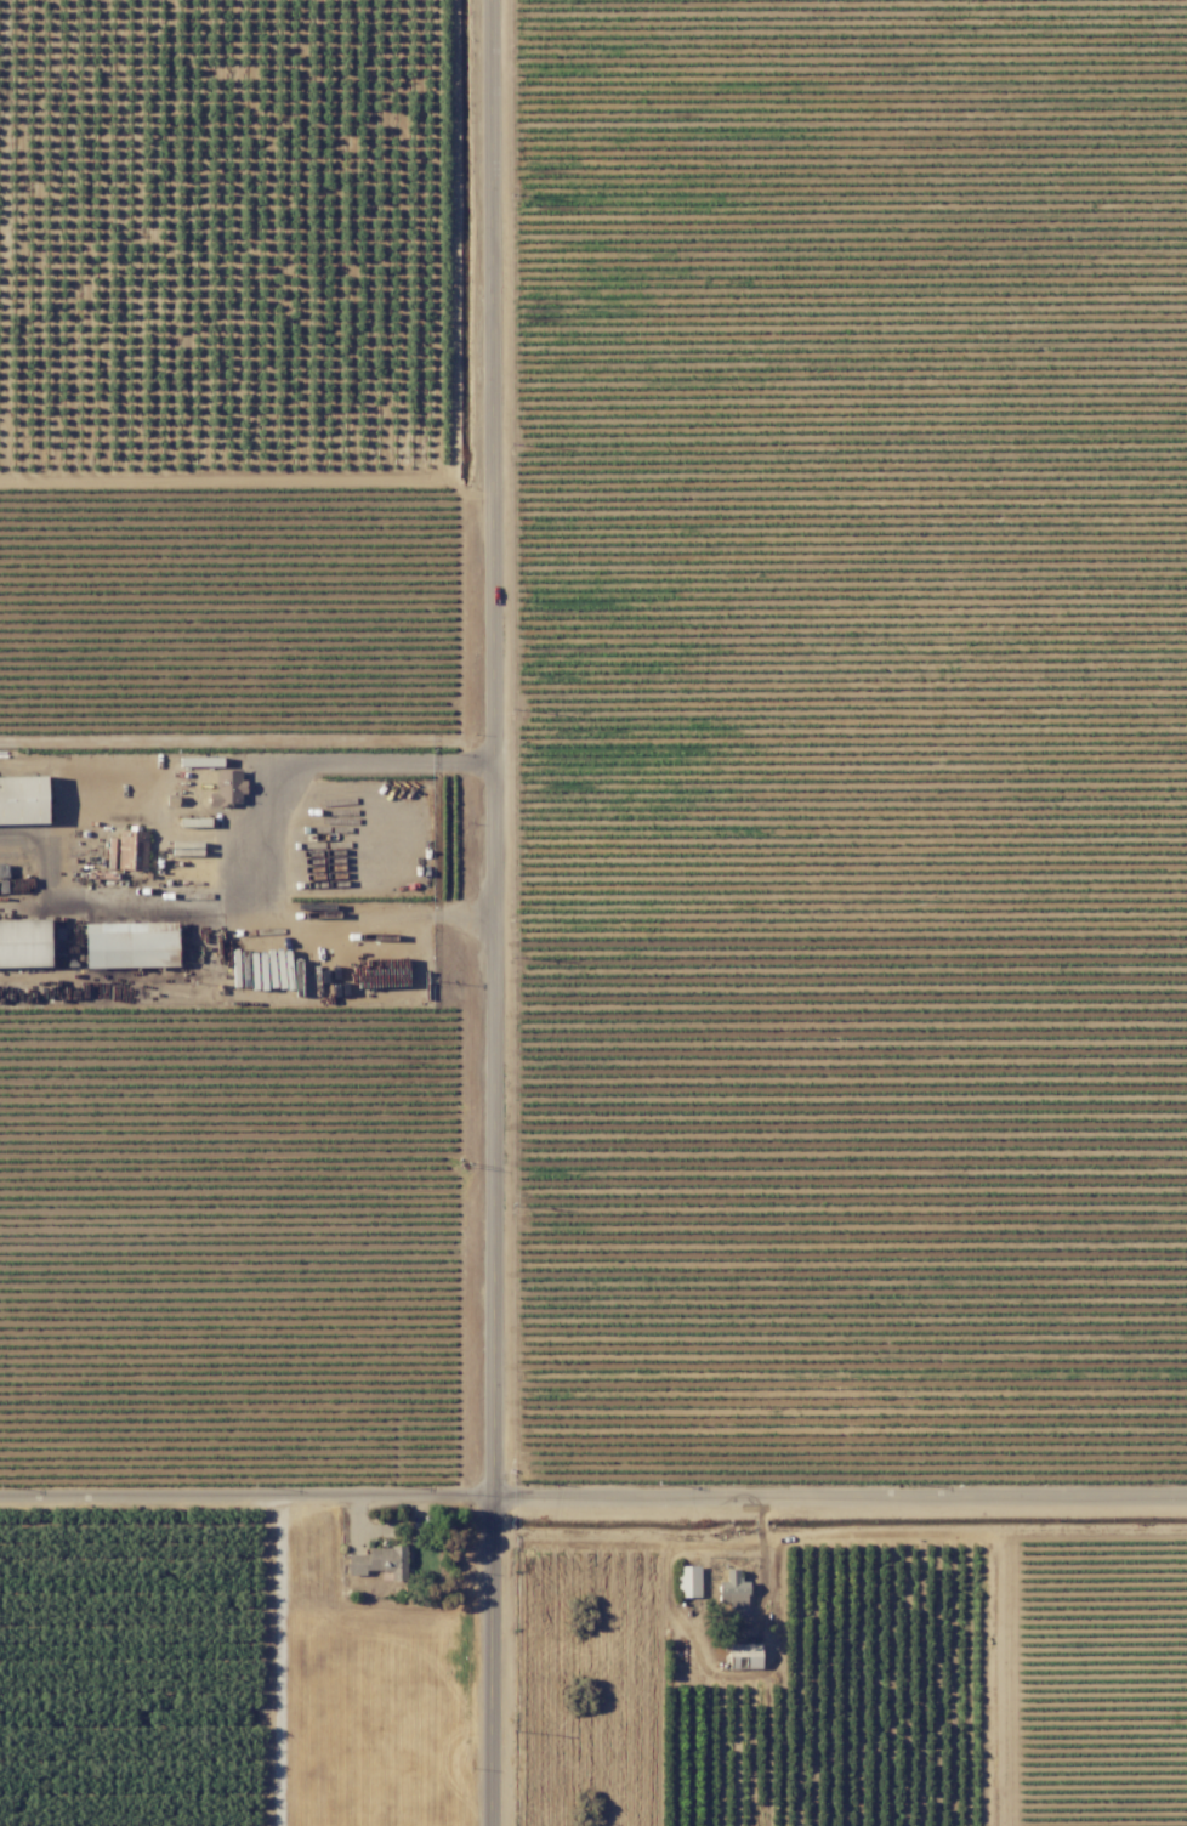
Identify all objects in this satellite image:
road: (450, 464)
building: (227, 787)
building: (23, 799)
building: (131, 849)
road: (262, 854)
road: (499, 913)
building: (24, 942)
building: (130, 943)
road: (592, 1504)
building: (380, 1561)
building: (688, 1580)
building: (733, 1592)
building: (744, 1655)
road: (278, 1663)
crop: (144, 1672)

